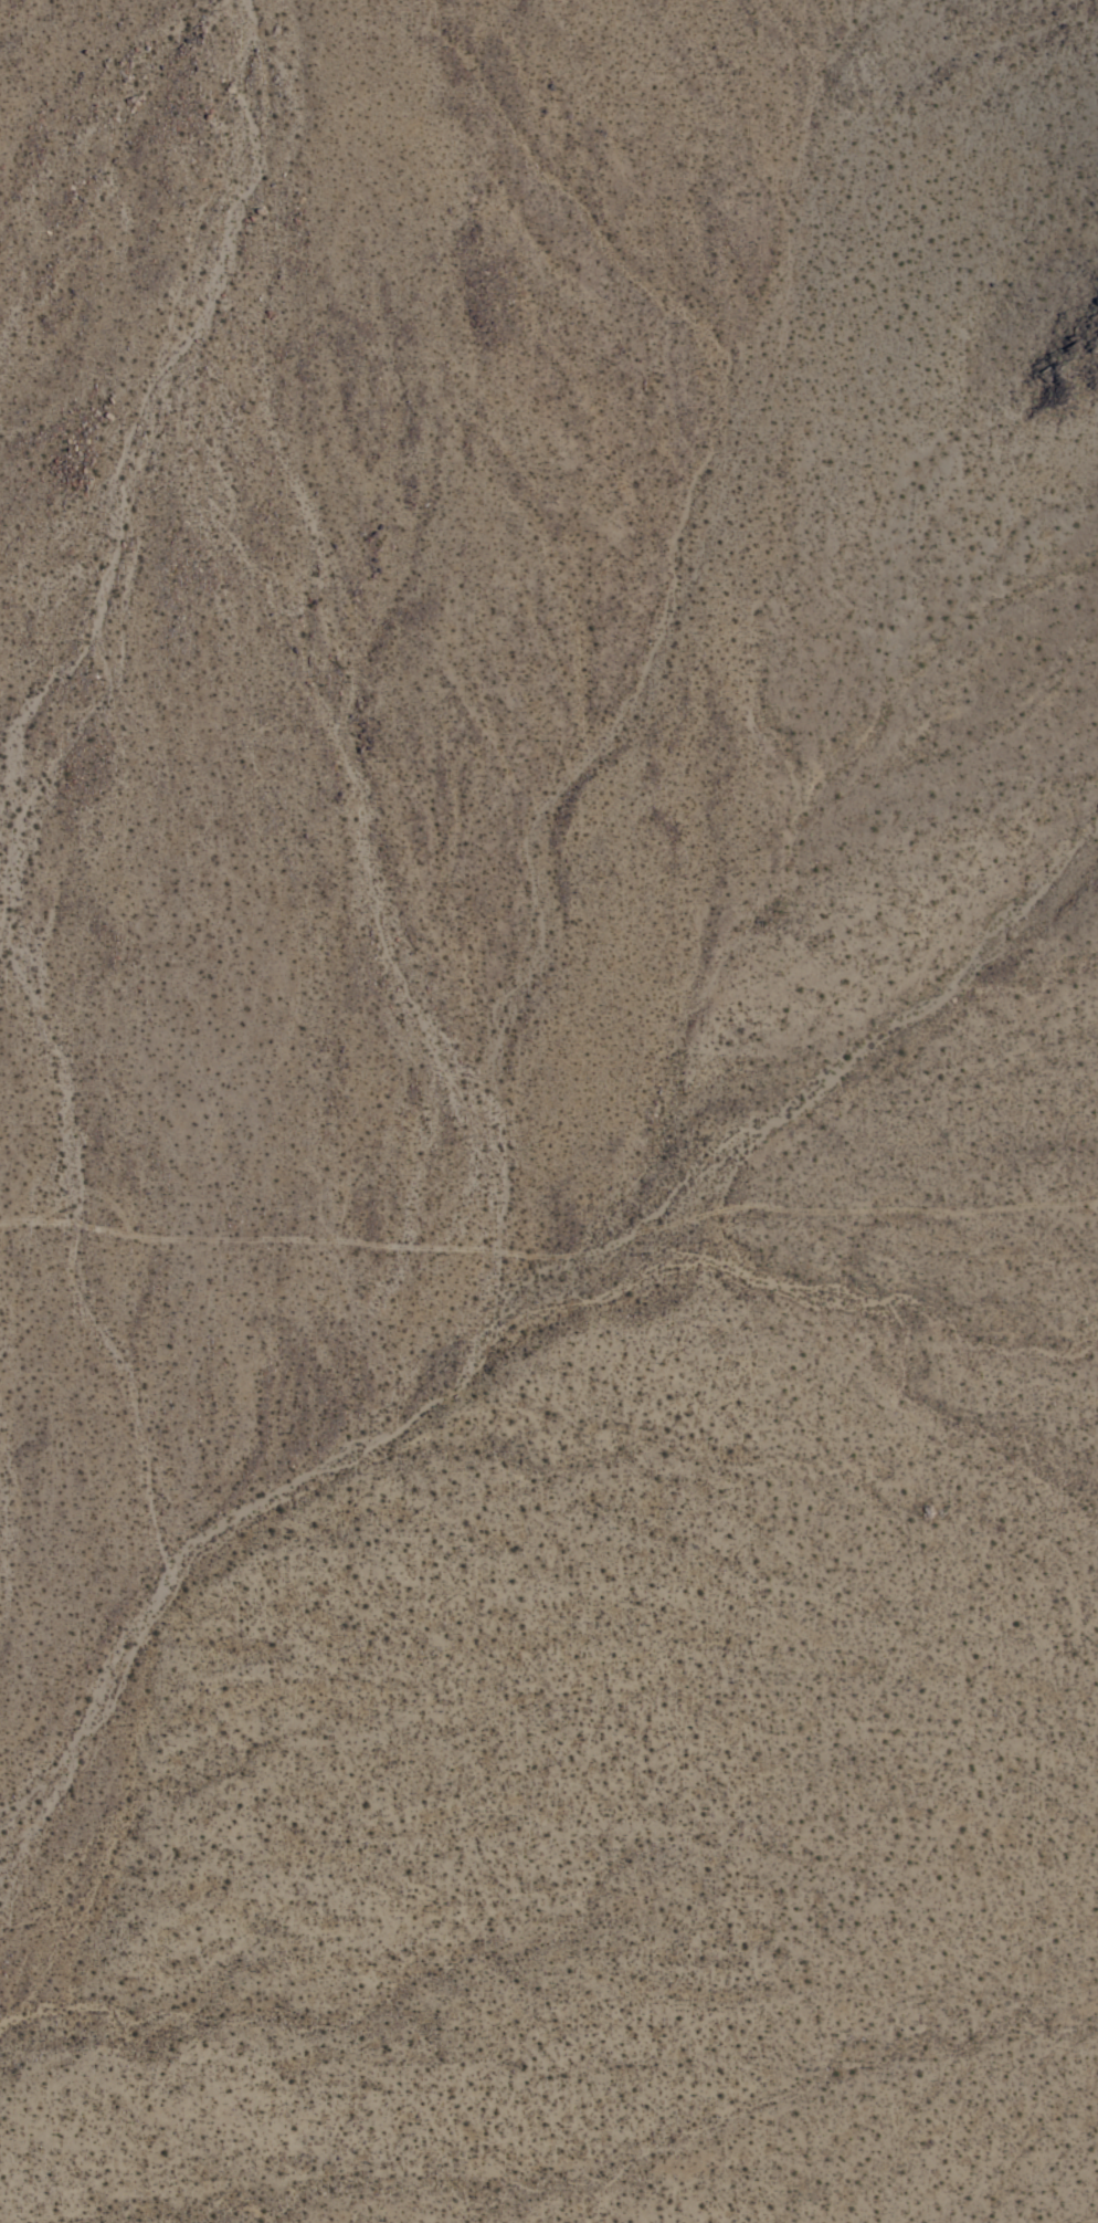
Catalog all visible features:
road: (552, 1260)

